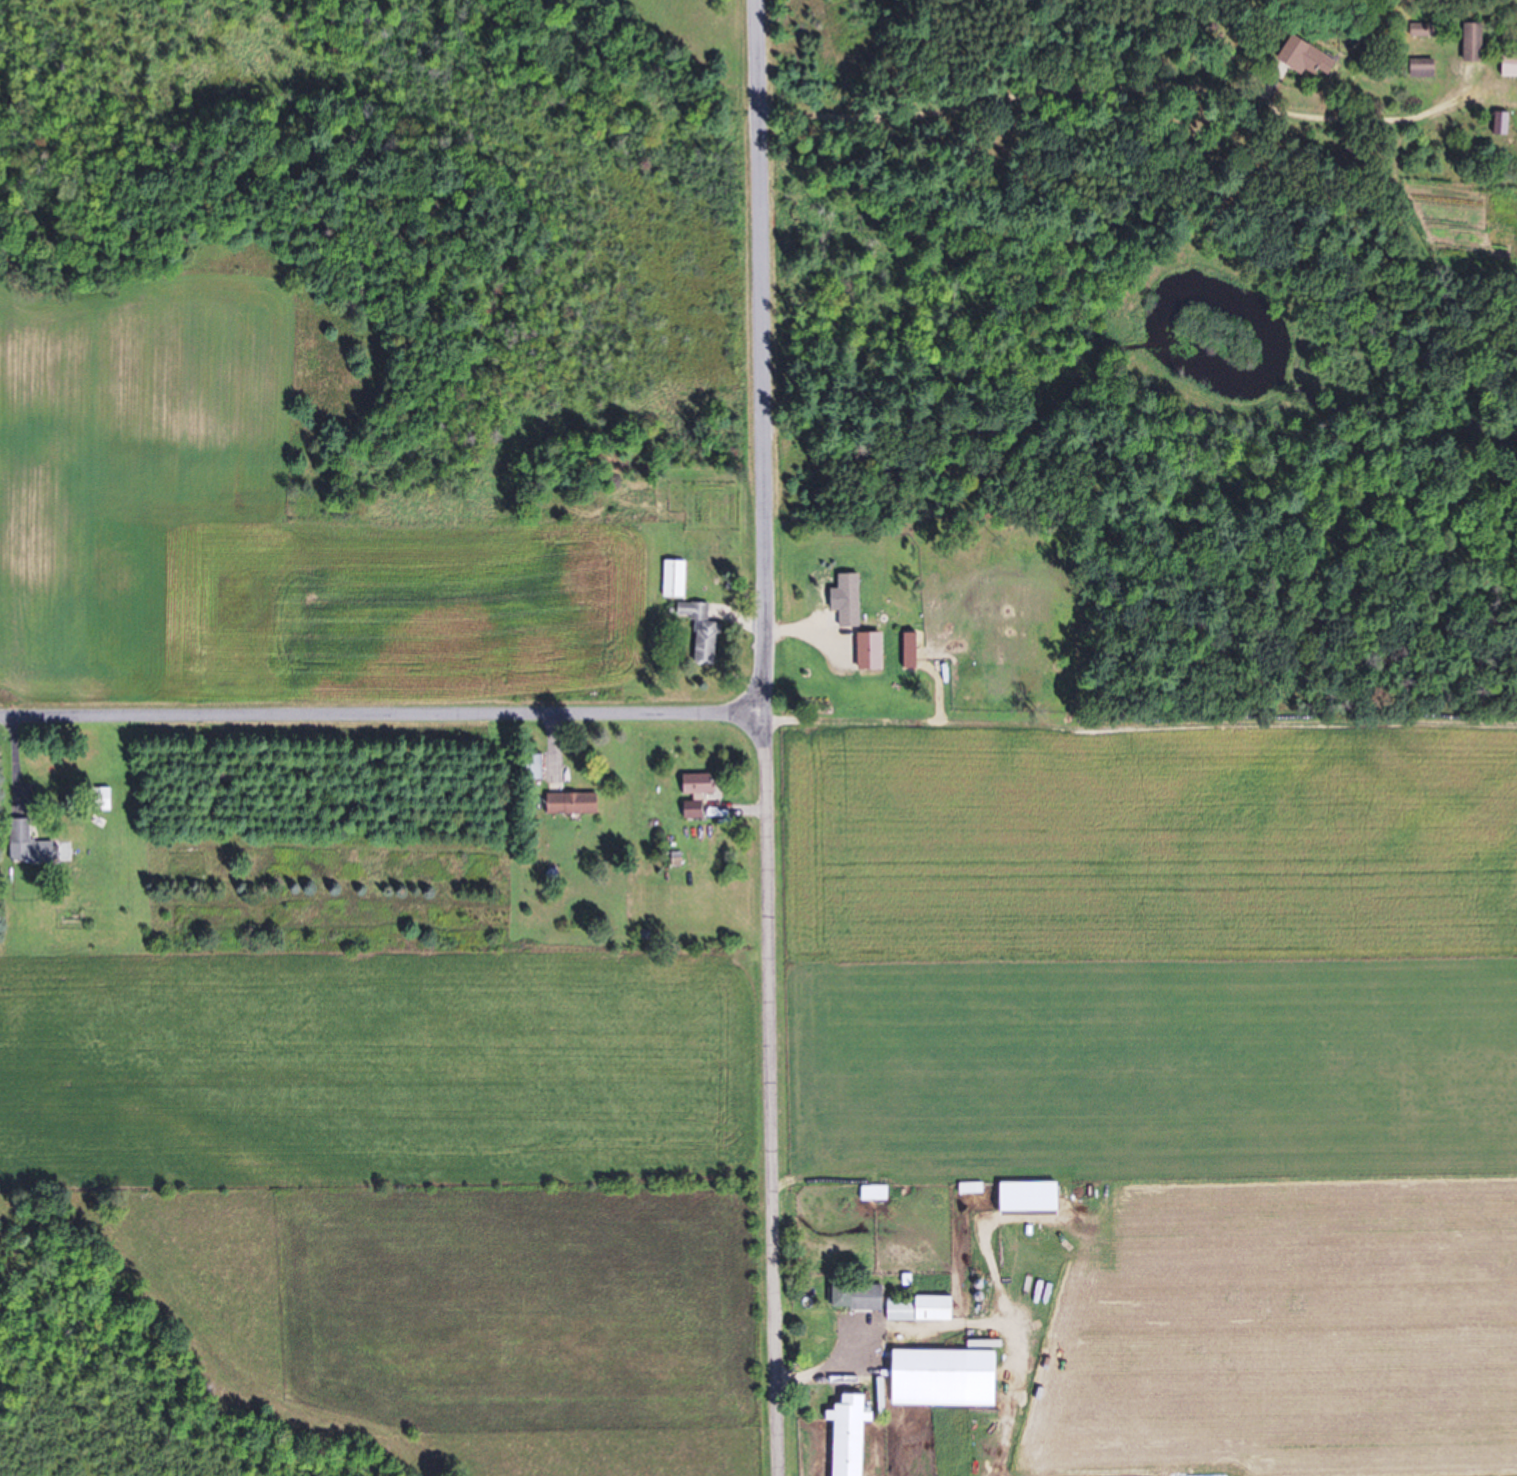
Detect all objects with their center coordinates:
building: (1422, 30)
building: (1475, 42)
building: (1309, 57)
building: (1511, 64)
building: (1425, 68)
road: (758, 357)
building: (676, 579)
building: (851, 601)
building: (704, 632)
road: (382, 718)
building: (535, 767)
building: (698, 794)
building: (102, 799)
building: (574, 804)
building: (31, 845)
road: (770, 1095)
building: (973, 1189)
road: (987, 1250)
building: (860, 1296)
building: (924, 1309)
road: (934, 1330)
building: (933, 1374)
building: (852, 1434)

